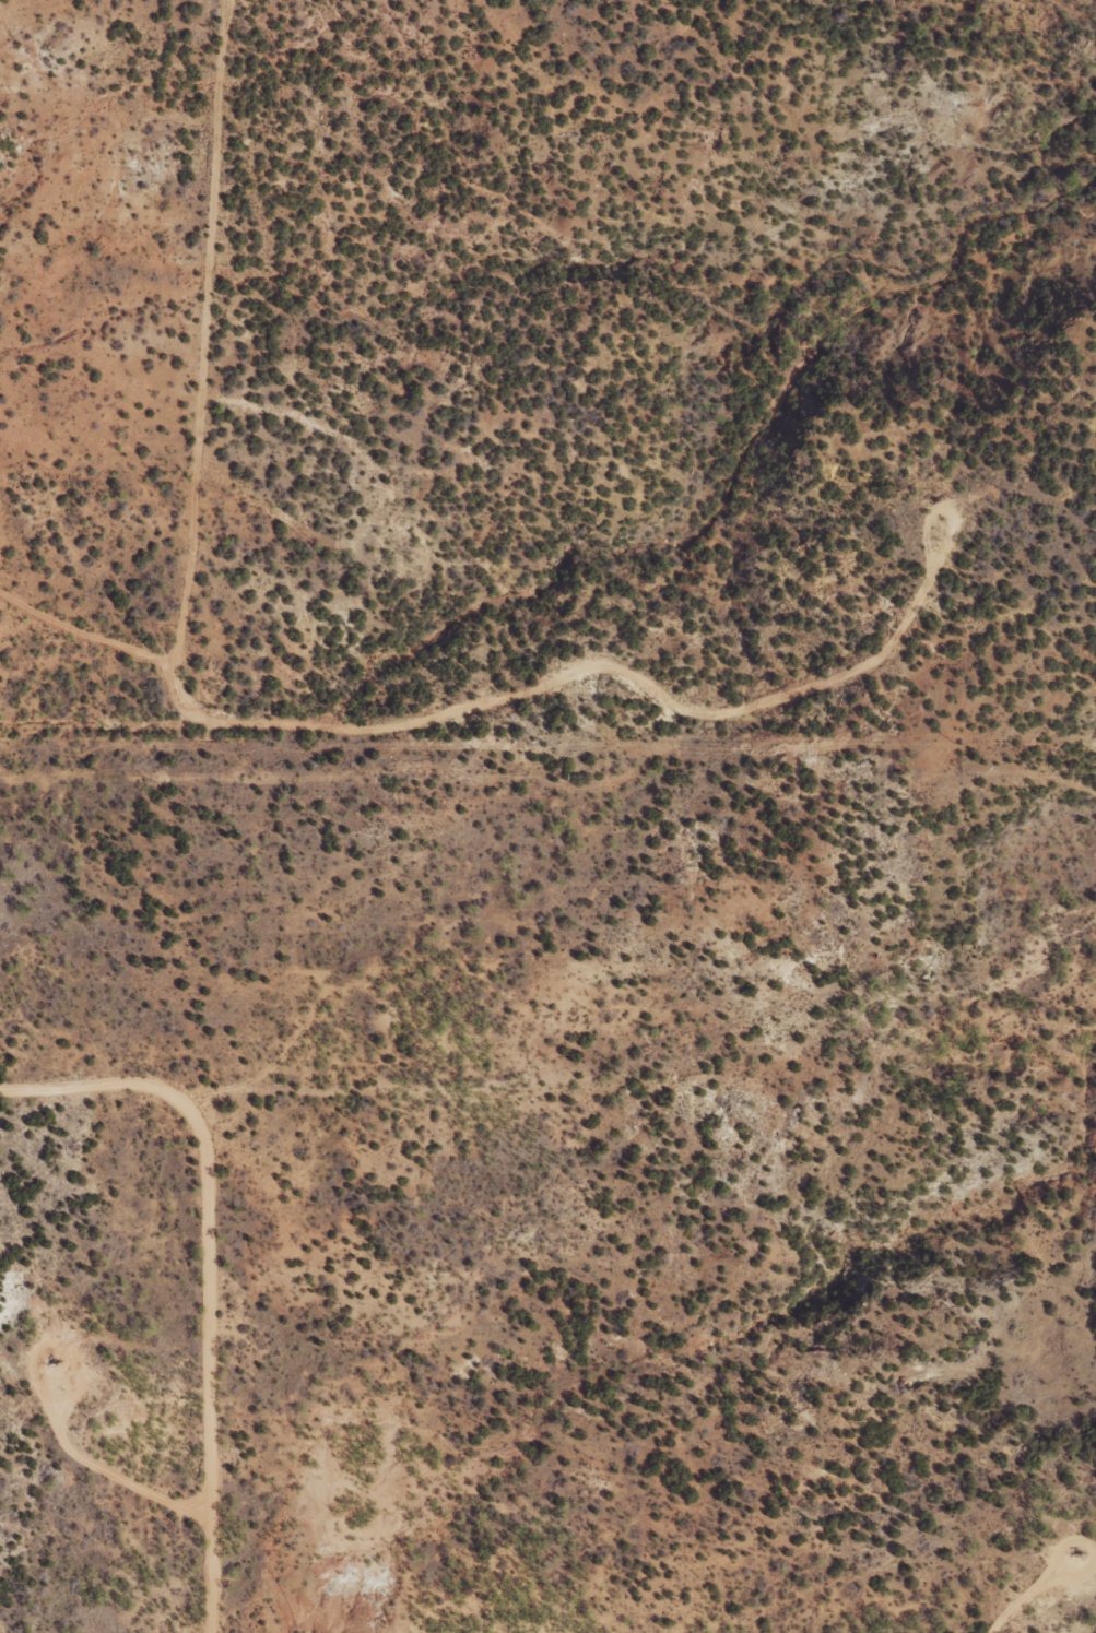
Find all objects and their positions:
road: (245, 1326)
road: (1058, 1555)

